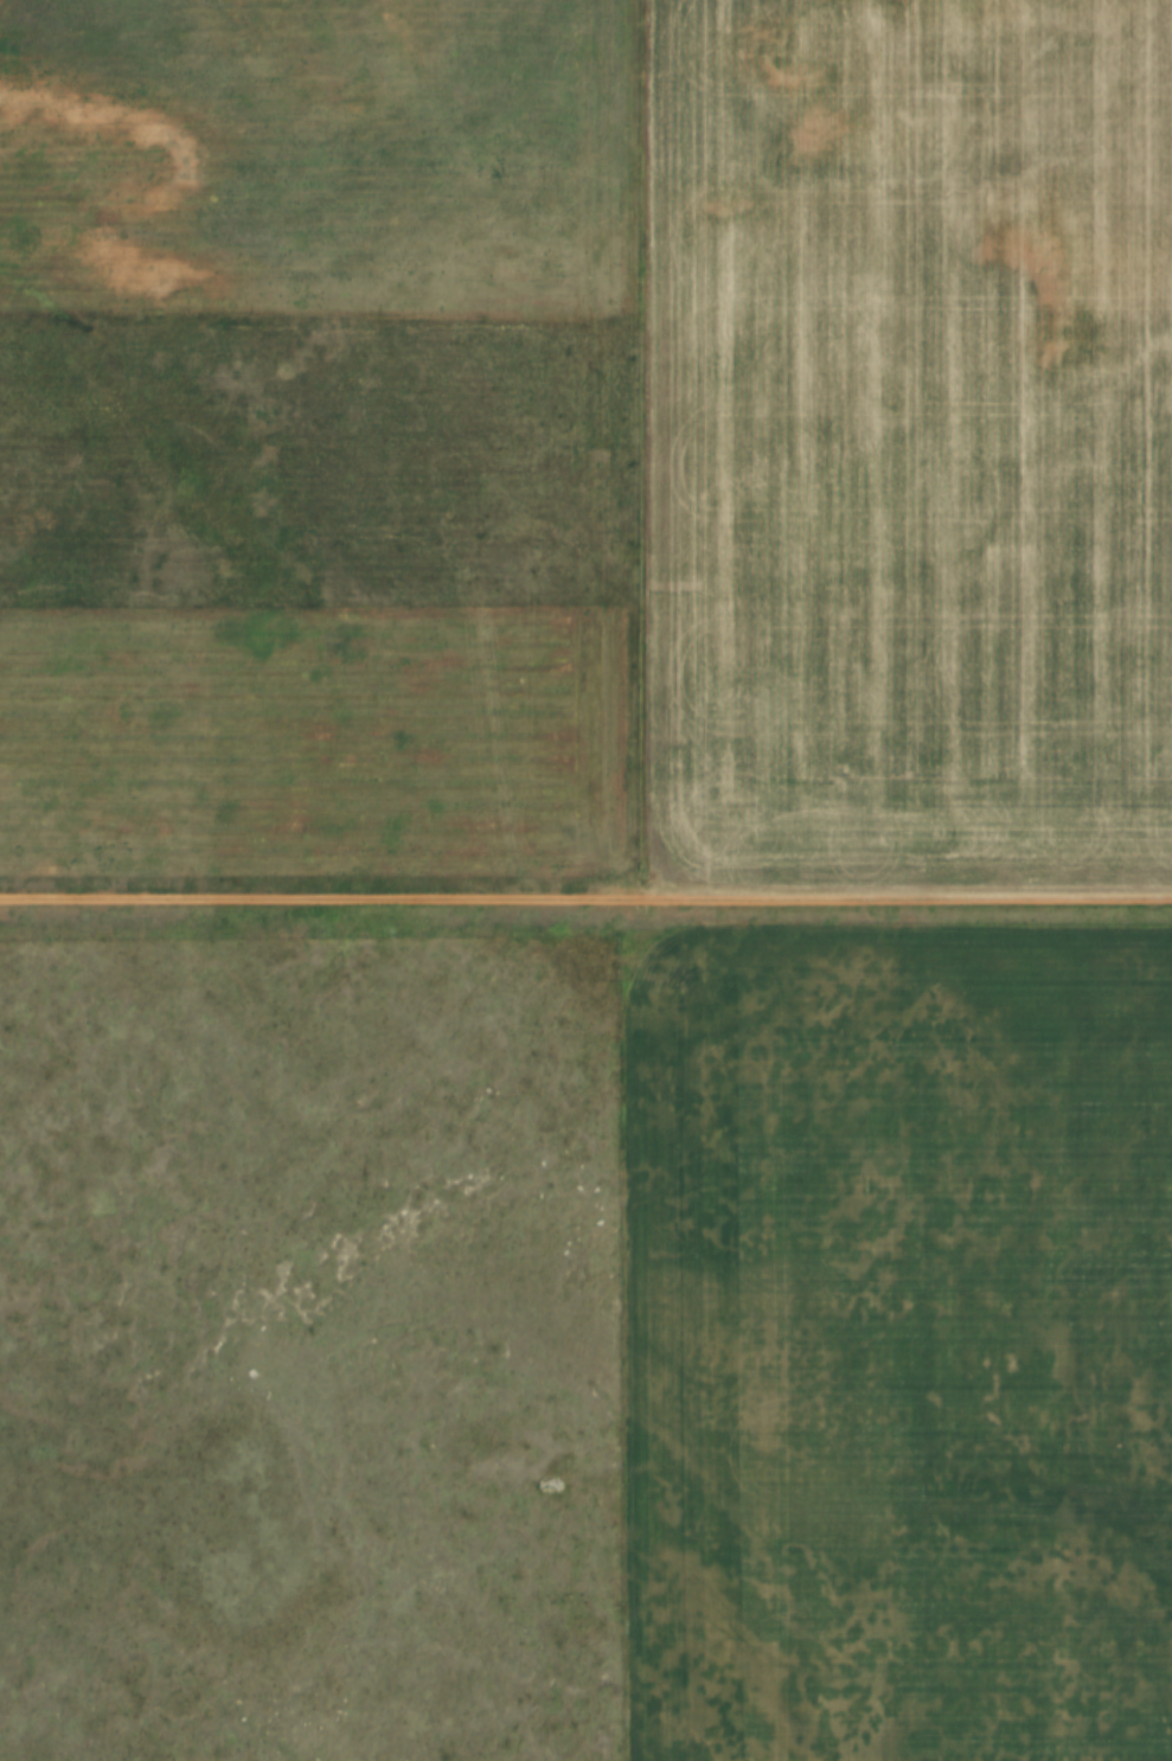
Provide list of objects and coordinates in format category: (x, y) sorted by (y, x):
road: (585, 905)

